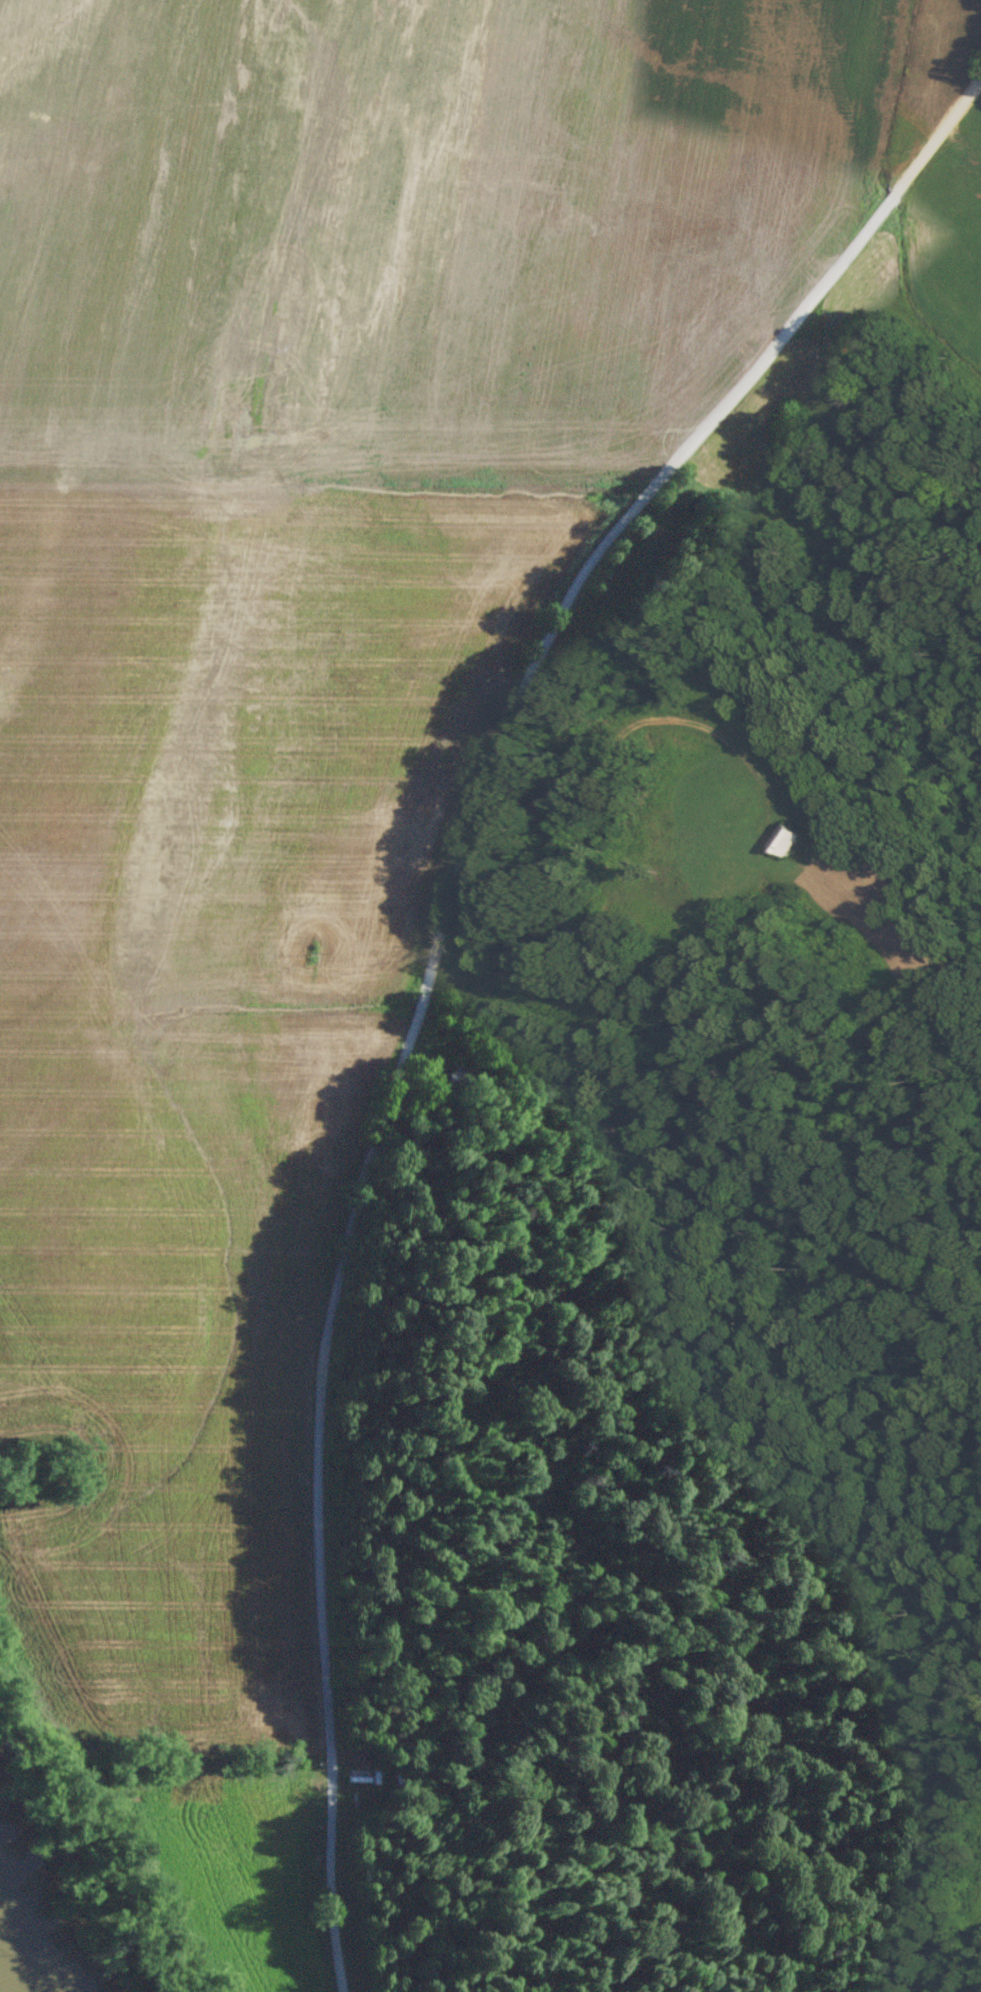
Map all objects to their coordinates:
building: (779, 841)
building: (666, 880)
road: (428, 962)
building: (477, 984)
river: (17, 1958)

